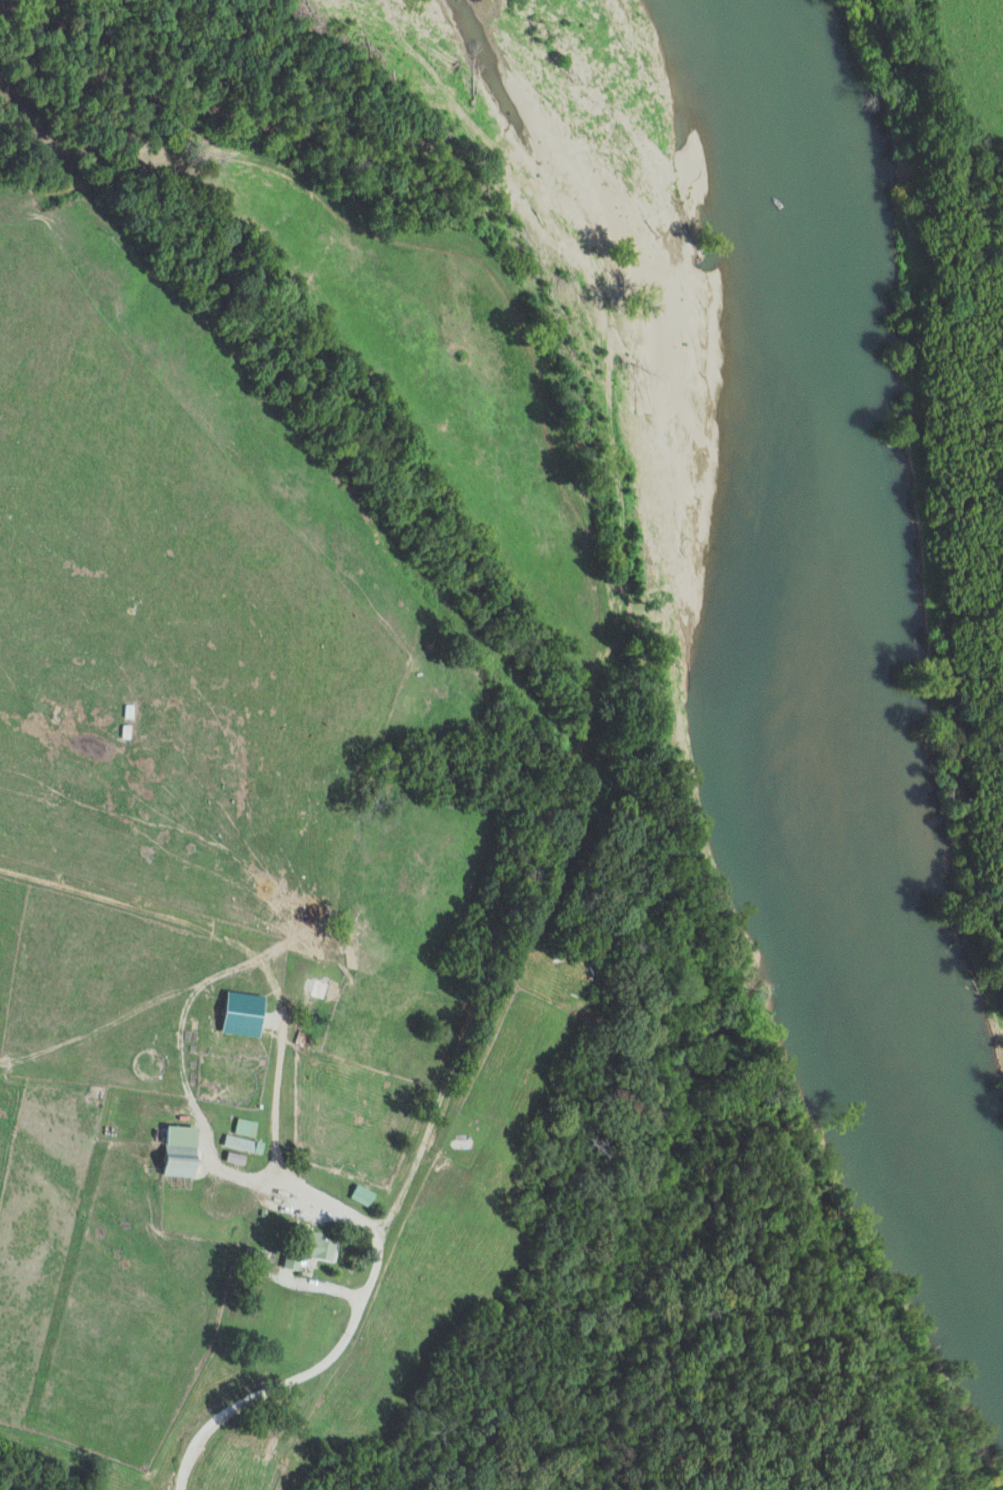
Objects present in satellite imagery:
road: (200, 102)
river: (869, 664)
road: (502, 931)
building: (181, 1151)
building: (363, 1196)
building: (323, 1247)
building: (293, 1262)
road: (296, 1378)

